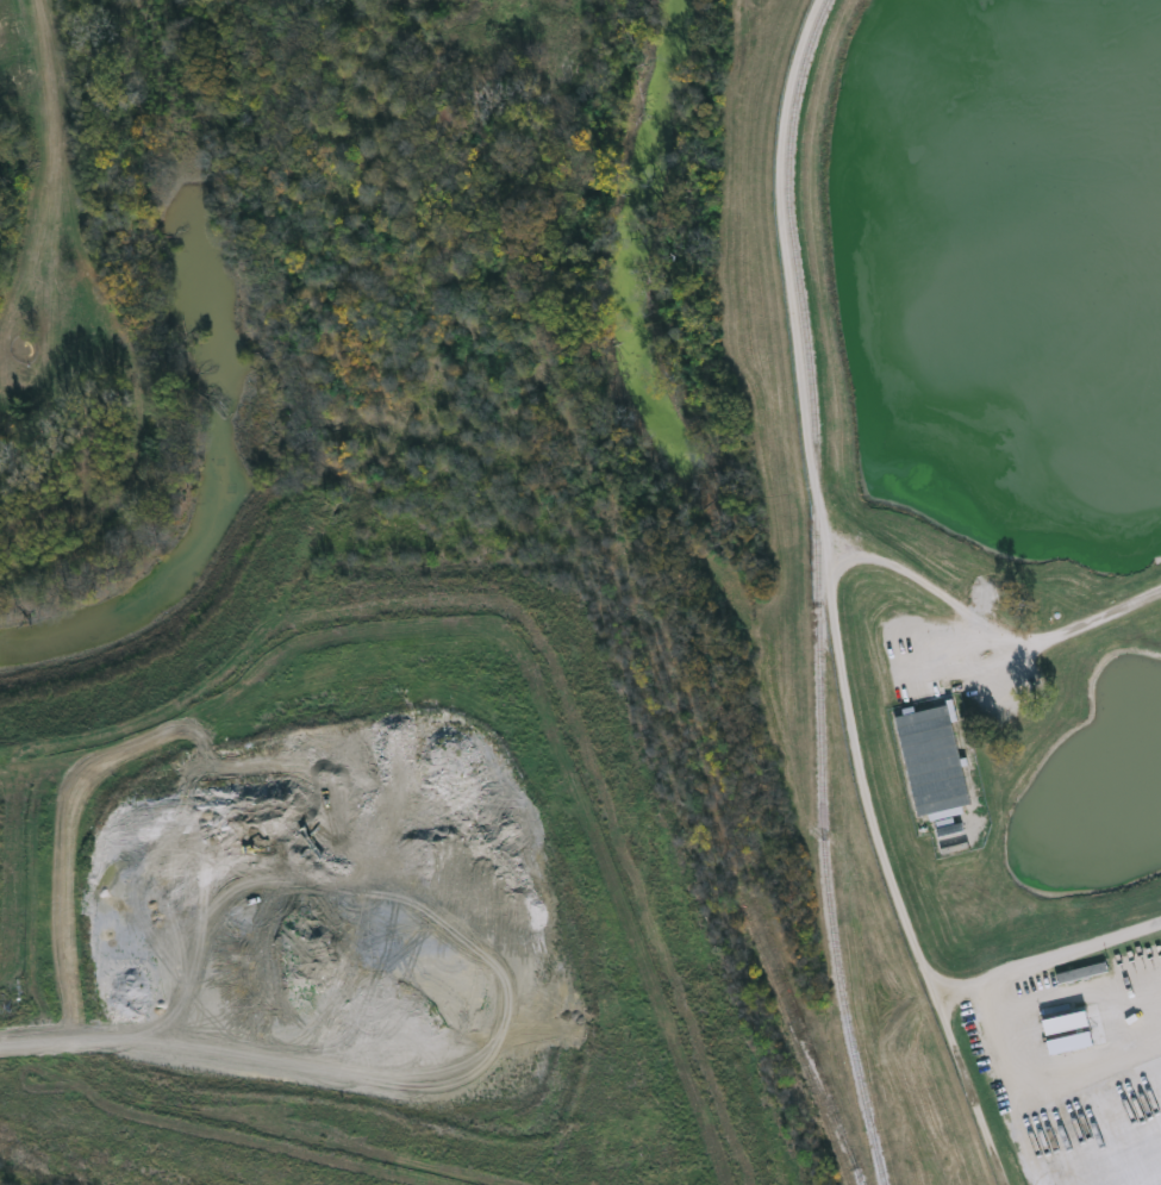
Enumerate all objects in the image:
building: (454, 120)
wastewater plant: (991, 523)
railway: (817, 592)
road: (835, 610)
road: (992, 629)
railway: (662, 661)
building: (1067, 1024)
railway: (792, 1035)
railway: (818, 1087)

